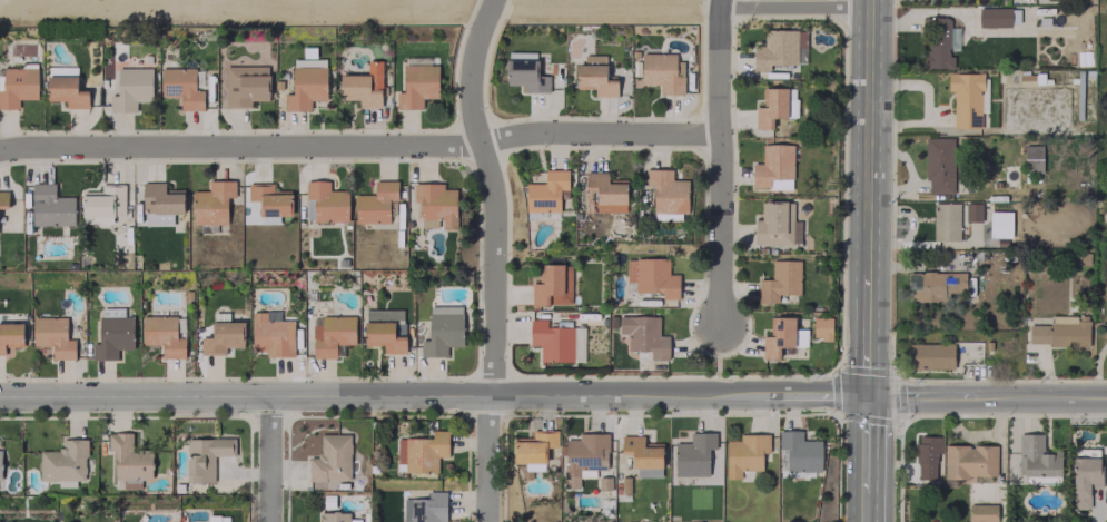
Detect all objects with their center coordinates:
road: (793, 6)
building: (994, 17)
building: (780, 49)
building: (58, 70)
building: (661, 72)
building: (525, 76)
building: (594, 76)
building: (306, 83)
building: (245, 85)
building: (18, 86)
building: (181, 86)
building: (363, 86)
building: (416, 86)
building: (130, 89)
building: (66, 91)
building: (967, 98)
building: (772, 107)
road: (867, 128)
road: (358, 145)
building: (1032, 158)
road: (718, 162)
building: (939, 165)
building: (773, 167)
building: (666, 190)
building: (546, 191)
building: (604, 193)
building: (270, 199)
building: (103, 200)
building: (327, 201)
building: (212, 203)
building: (375, 203)
building: (160, 204)
building: (436, 205)
building: (50, 206)
building: (972, 211)
building: (666, 216)
building: (946, 221)
building: (777, 224)
building: (999, 224)
road: (492, 257)
building: (652, 276)
building: (779, 280)
building: (552, 284)
building: (933, 285)
road: (866, 325)
building: (821, 327)
building: (385, 328)
building: (442, 329)
building: (1060, 331)
building: (112, 333)
building: (165, 334)
building: (10, 335)
building: (332, 335)
building: (644, 335)
building: (52, 336)
building: (270, 336)
building: (778, 336)
building: (221, 337)
building: (556, 341)
building: (930, 356)
road: (1096, 368)
road: (432, 395)
road: (986, 395)
building: (535, 446)
road: (863, 446)
building: (800, 451)
building: (421, 452)
building: (745, 453)
building: (693, 454)
building: (643, 455)
building: (927, 455)
building: (205, 456)
building: (584, 457)
road: (267, 459)
building: (330, 459)
building: (129, 460)
building: (1037, 460)
building: (63, 461)
building: (969, 461)
building: (0, 470)
building: (1084, 480)
building: (425, 508)
road: (861, 510)
building: (981, 512)
building: (334, 516)
building: (218, 519)

